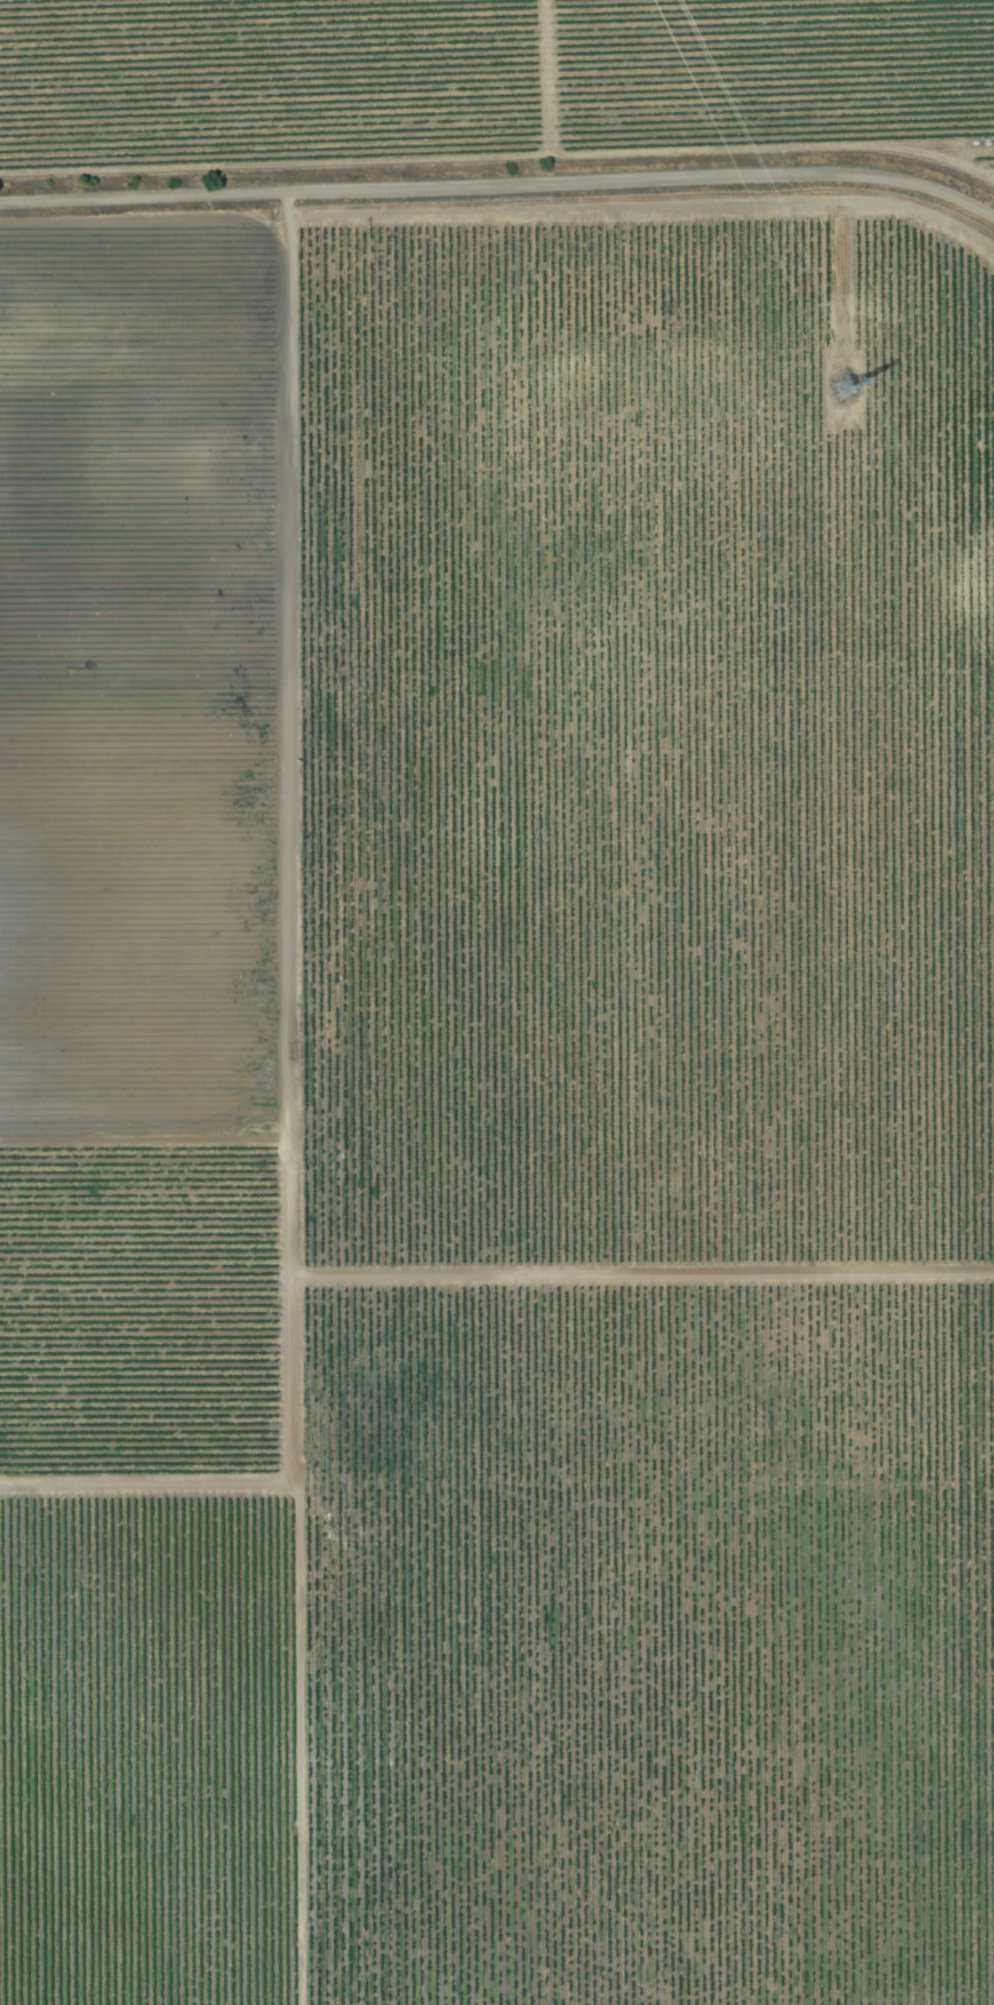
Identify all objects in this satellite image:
road: (500, 186)
power tower: (840, 391)
road: (401, 1274)

